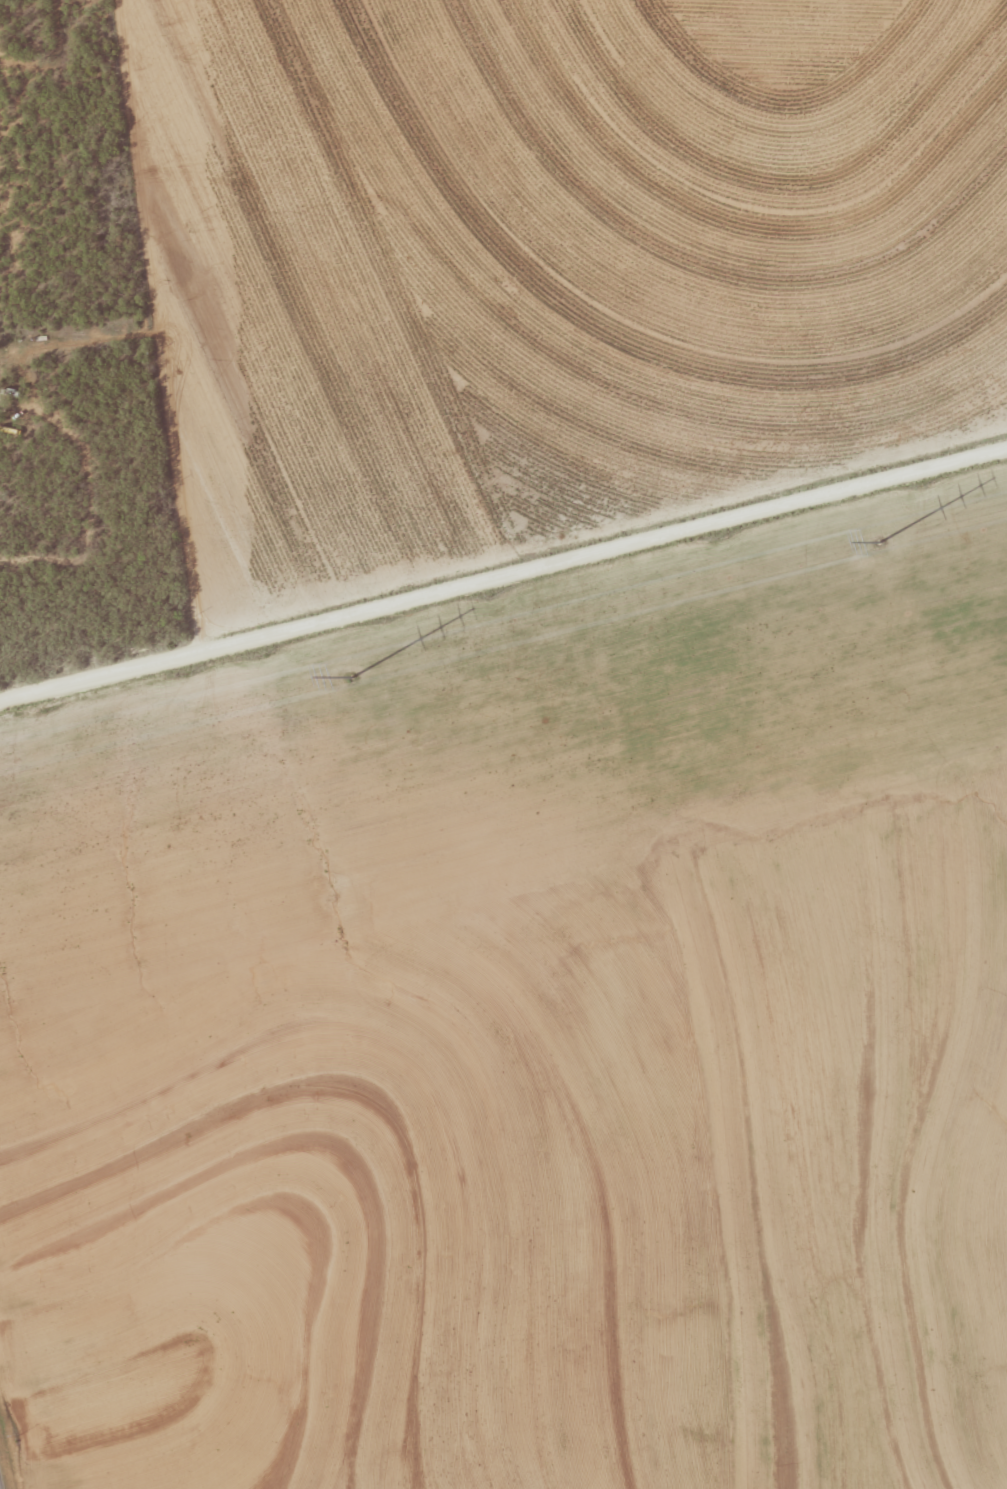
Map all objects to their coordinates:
road: (11, 4)
power tower: (880, 542)
road: (503, 583)
power tower: (352, 678)

